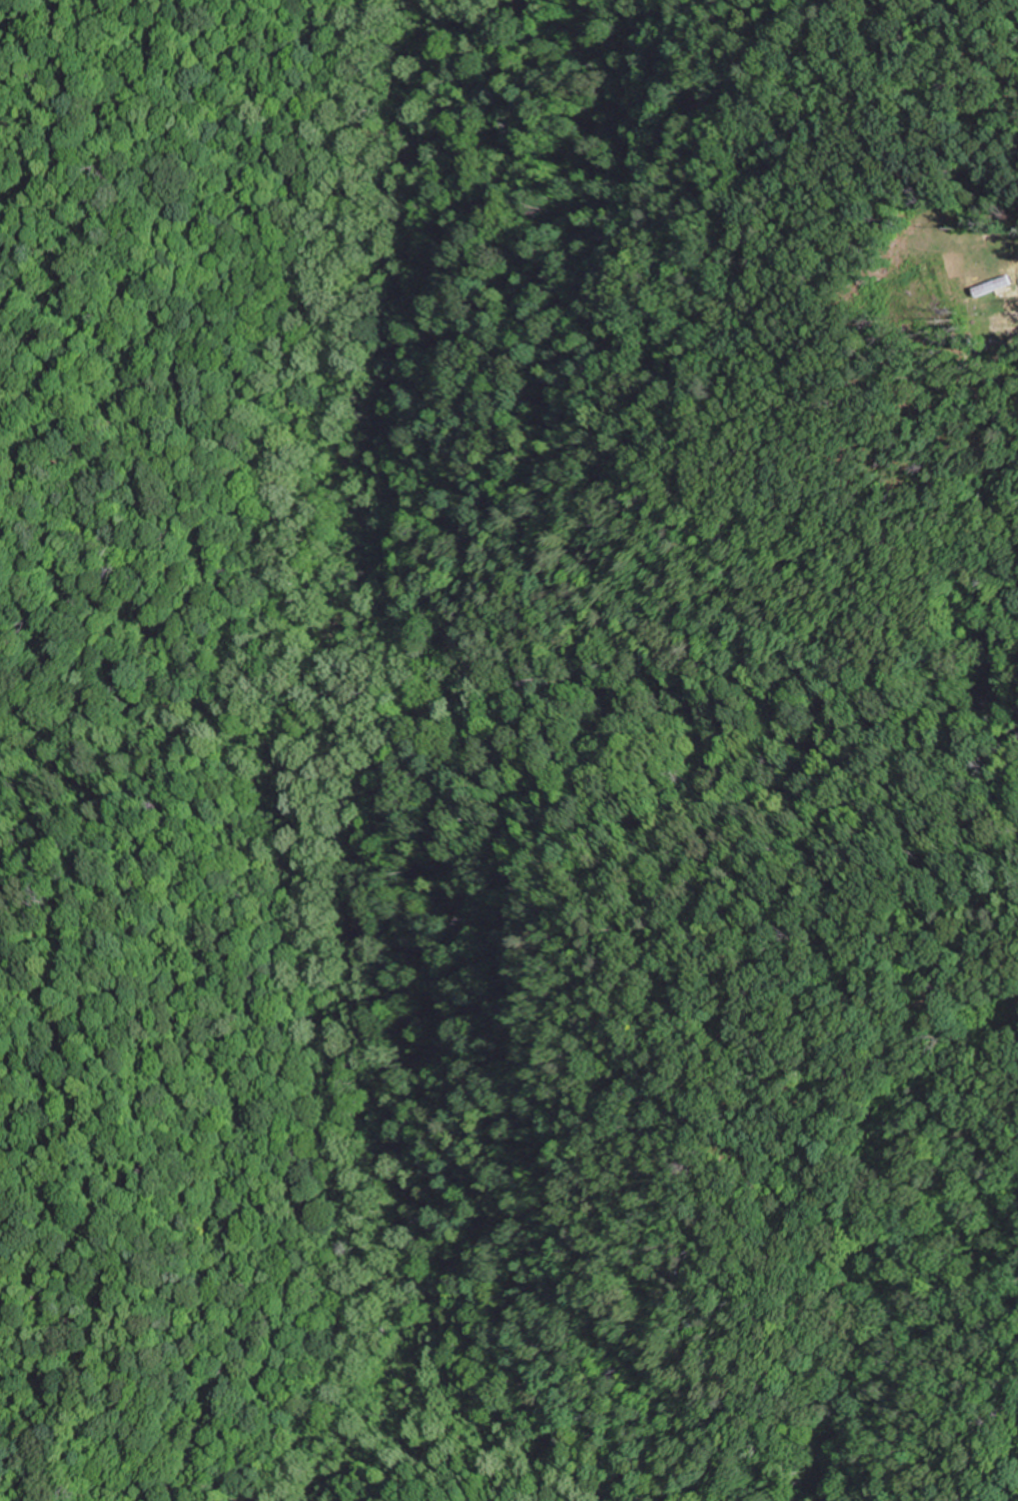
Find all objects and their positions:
road: (968, 364)
road: (911, 414)

